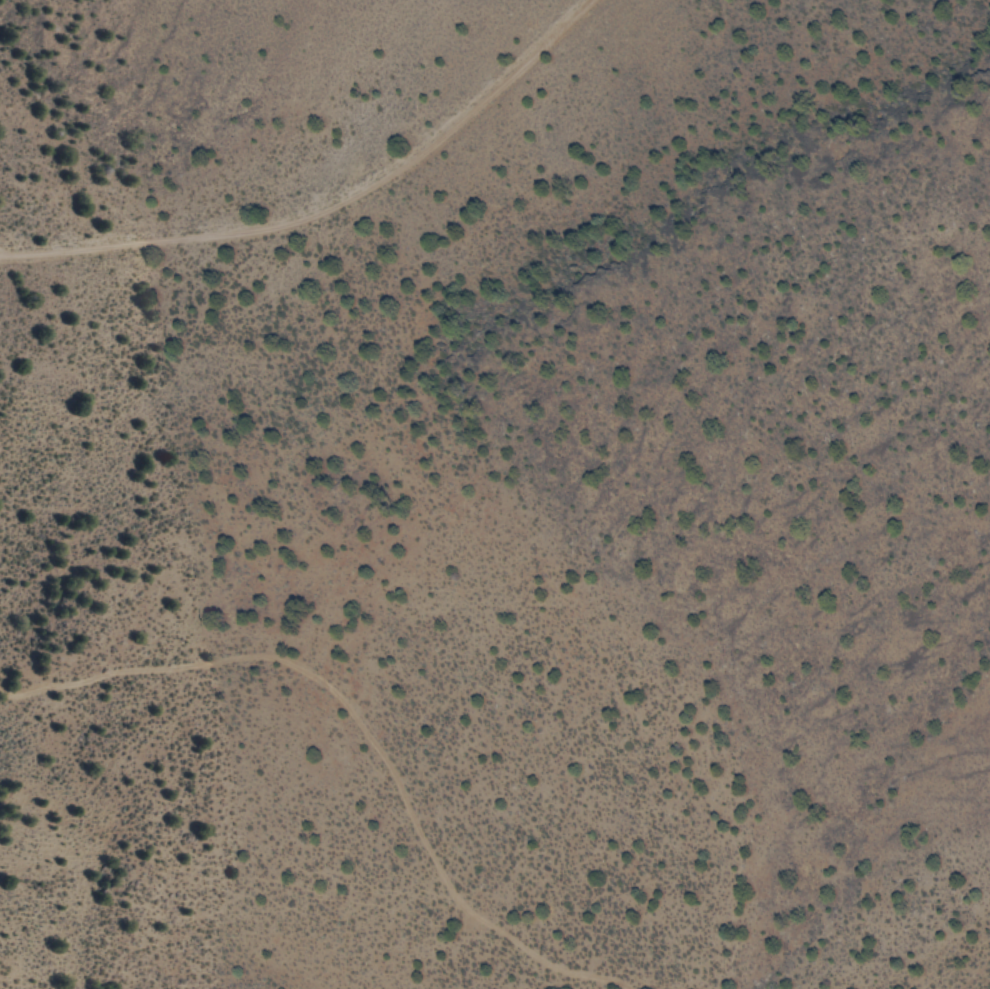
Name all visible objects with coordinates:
road: (328, 207)
road: (361, 723)

